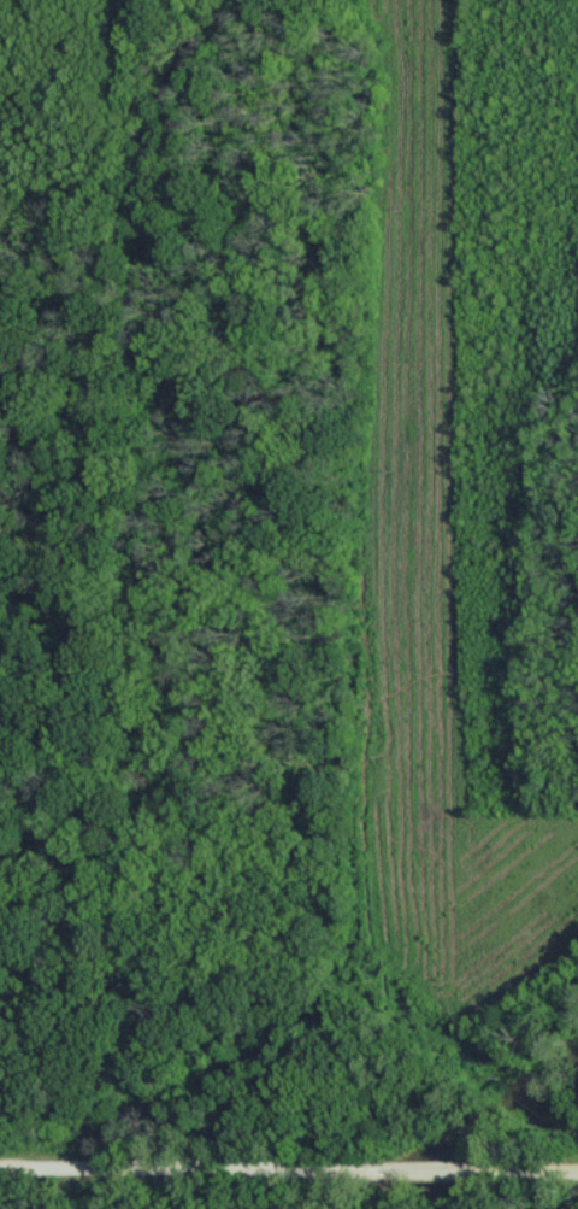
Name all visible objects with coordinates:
road: (175, 1166)
road: (437, 1168)
road: (552, 1170)

